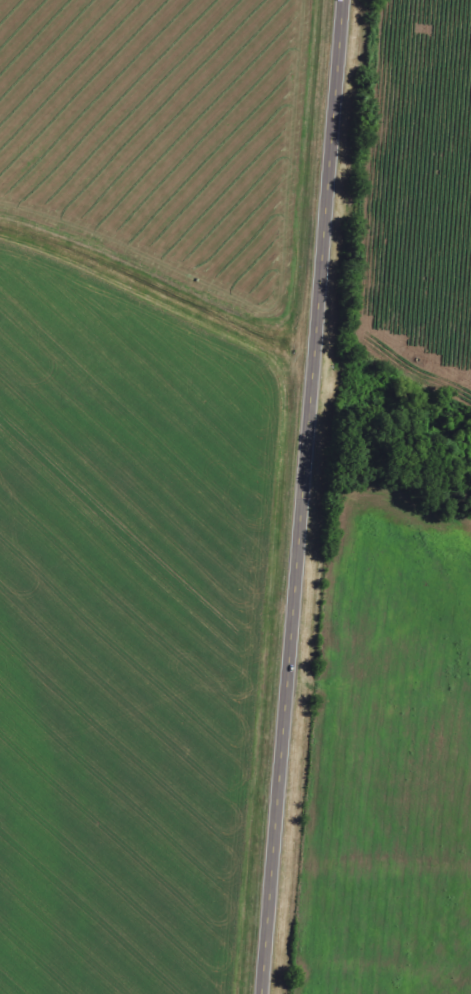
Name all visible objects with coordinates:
road: (300, 497)

